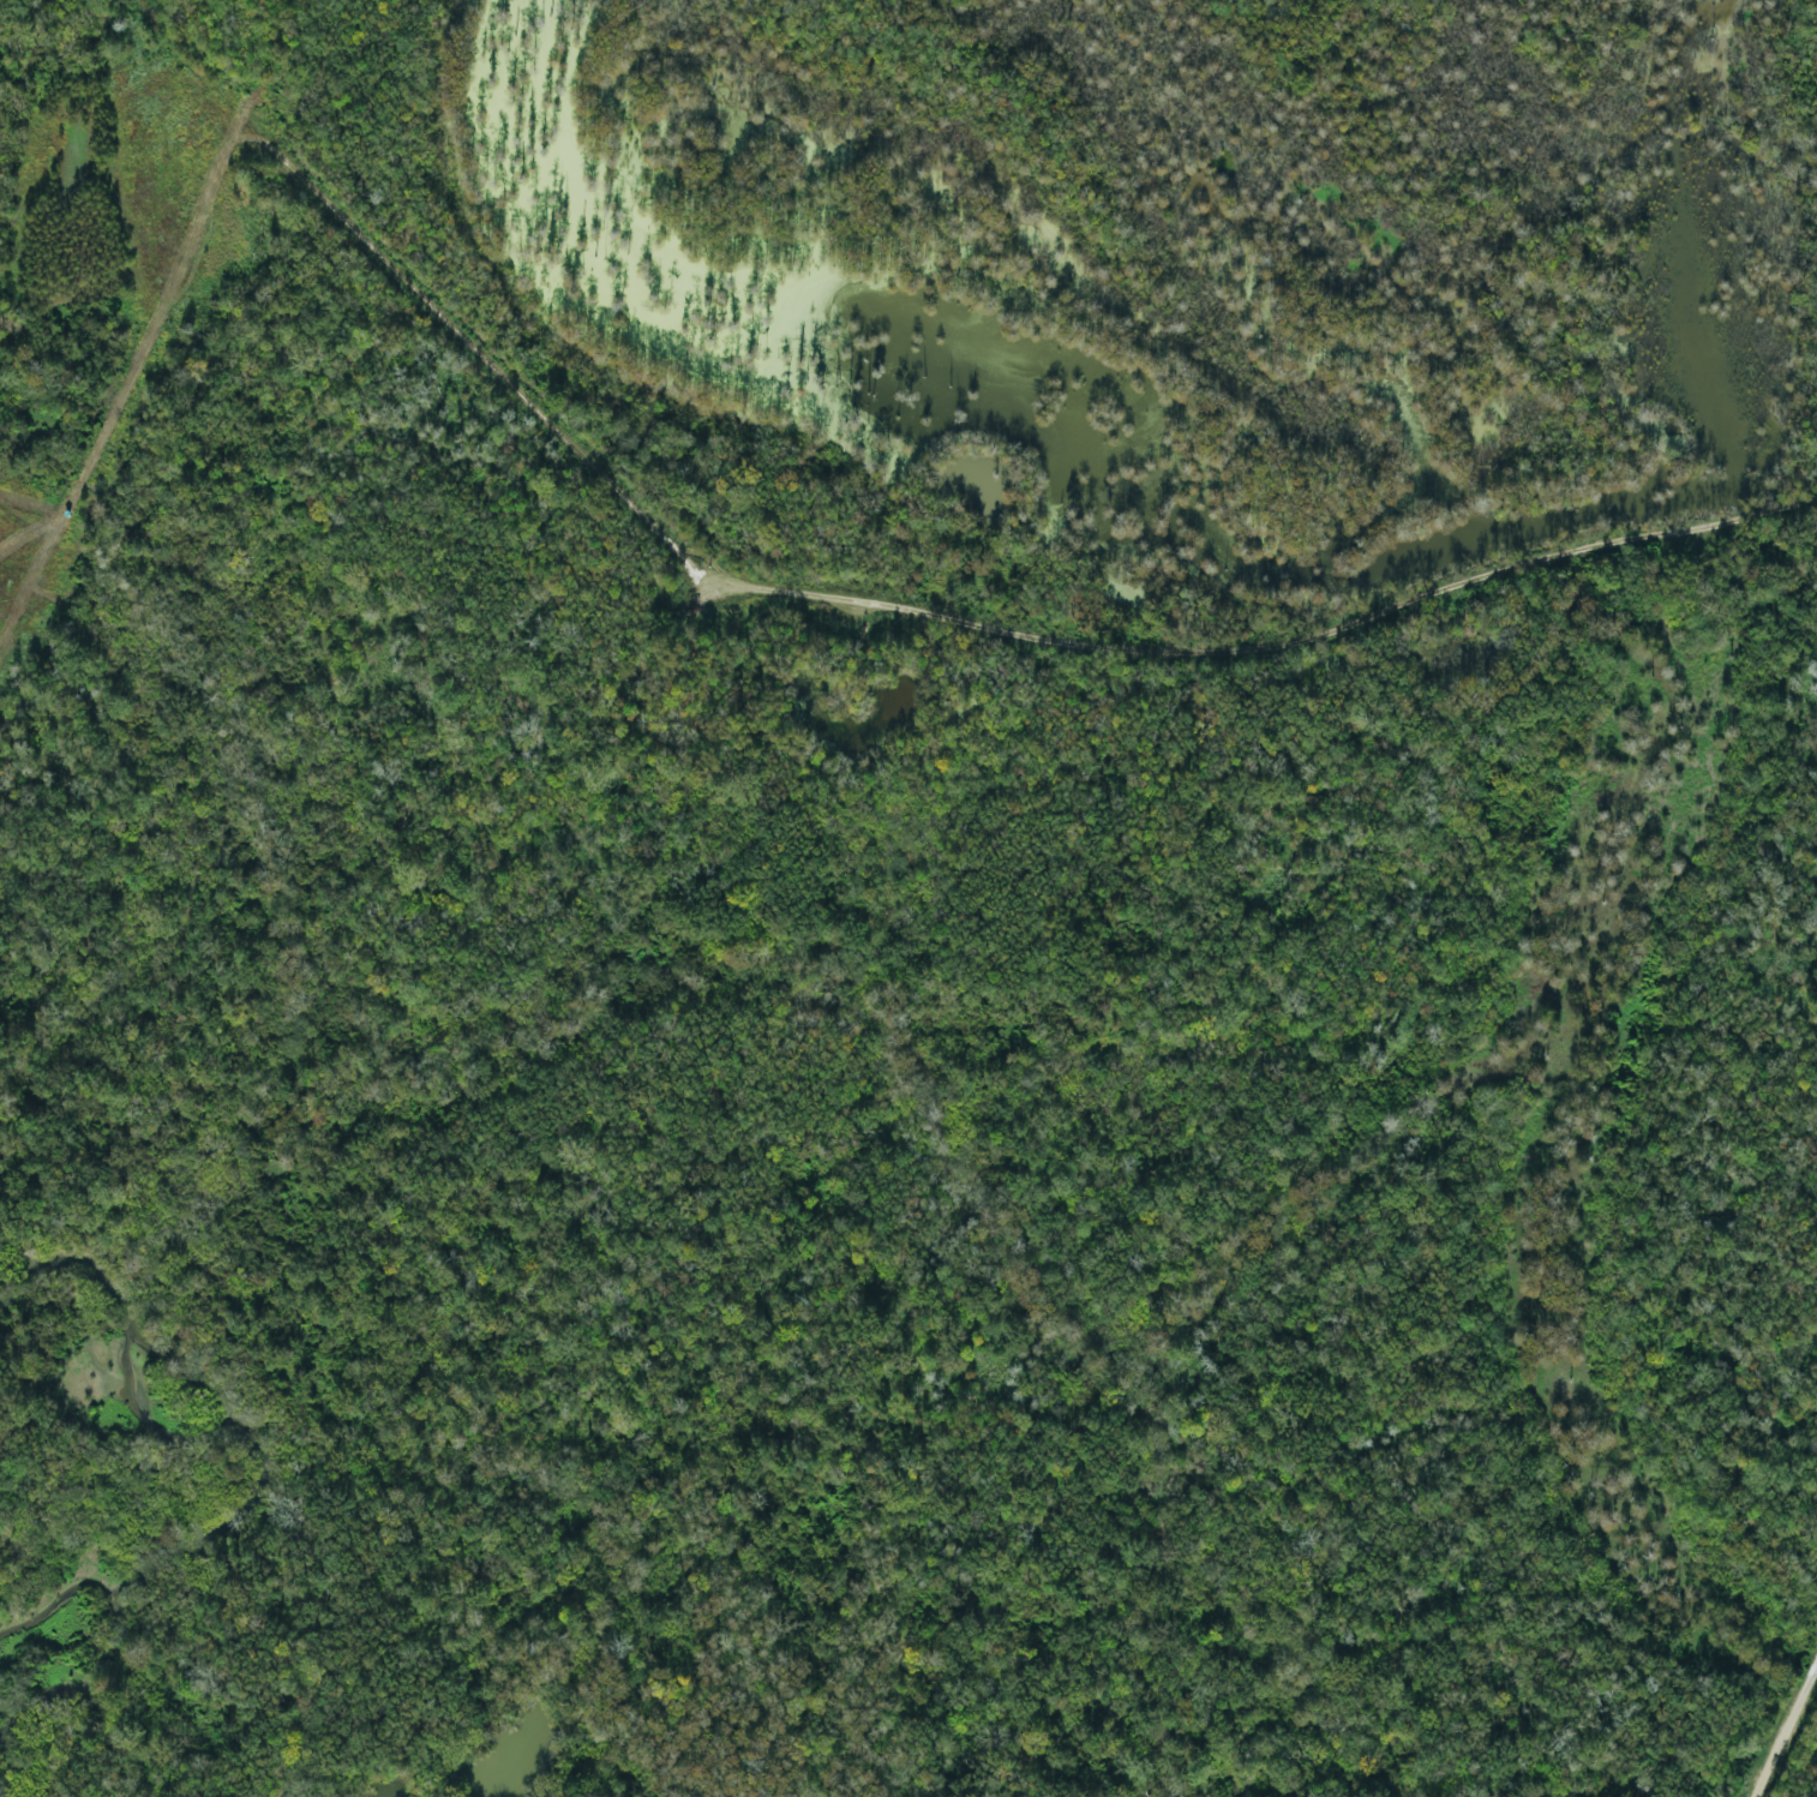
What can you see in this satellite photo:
road: (1780, 1729)

